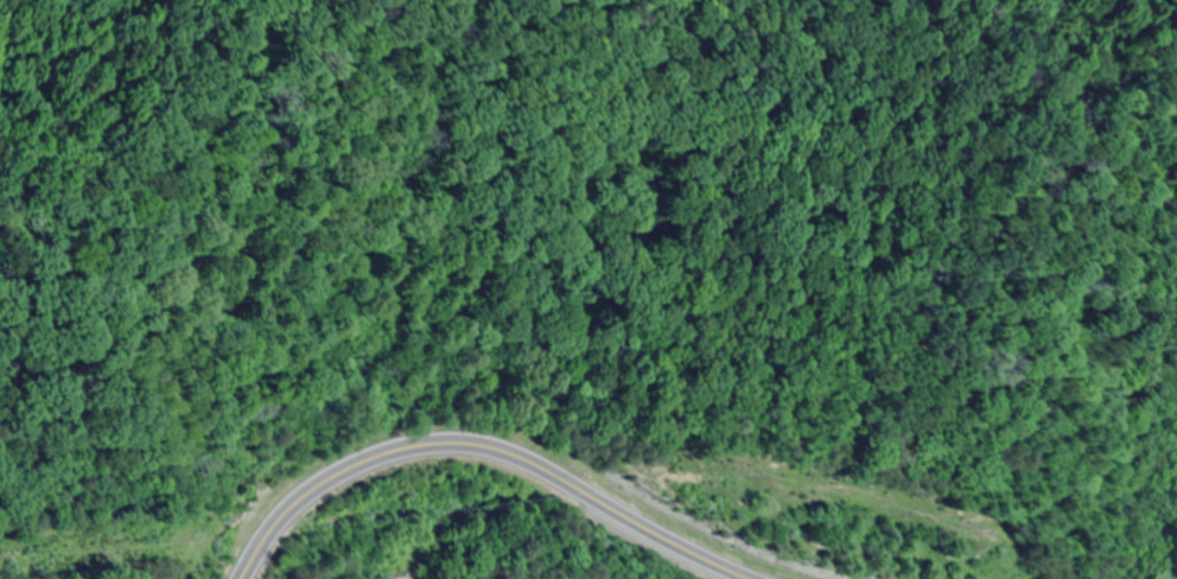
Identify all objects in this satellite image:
park: (588, 288)
road: (479, 464)

